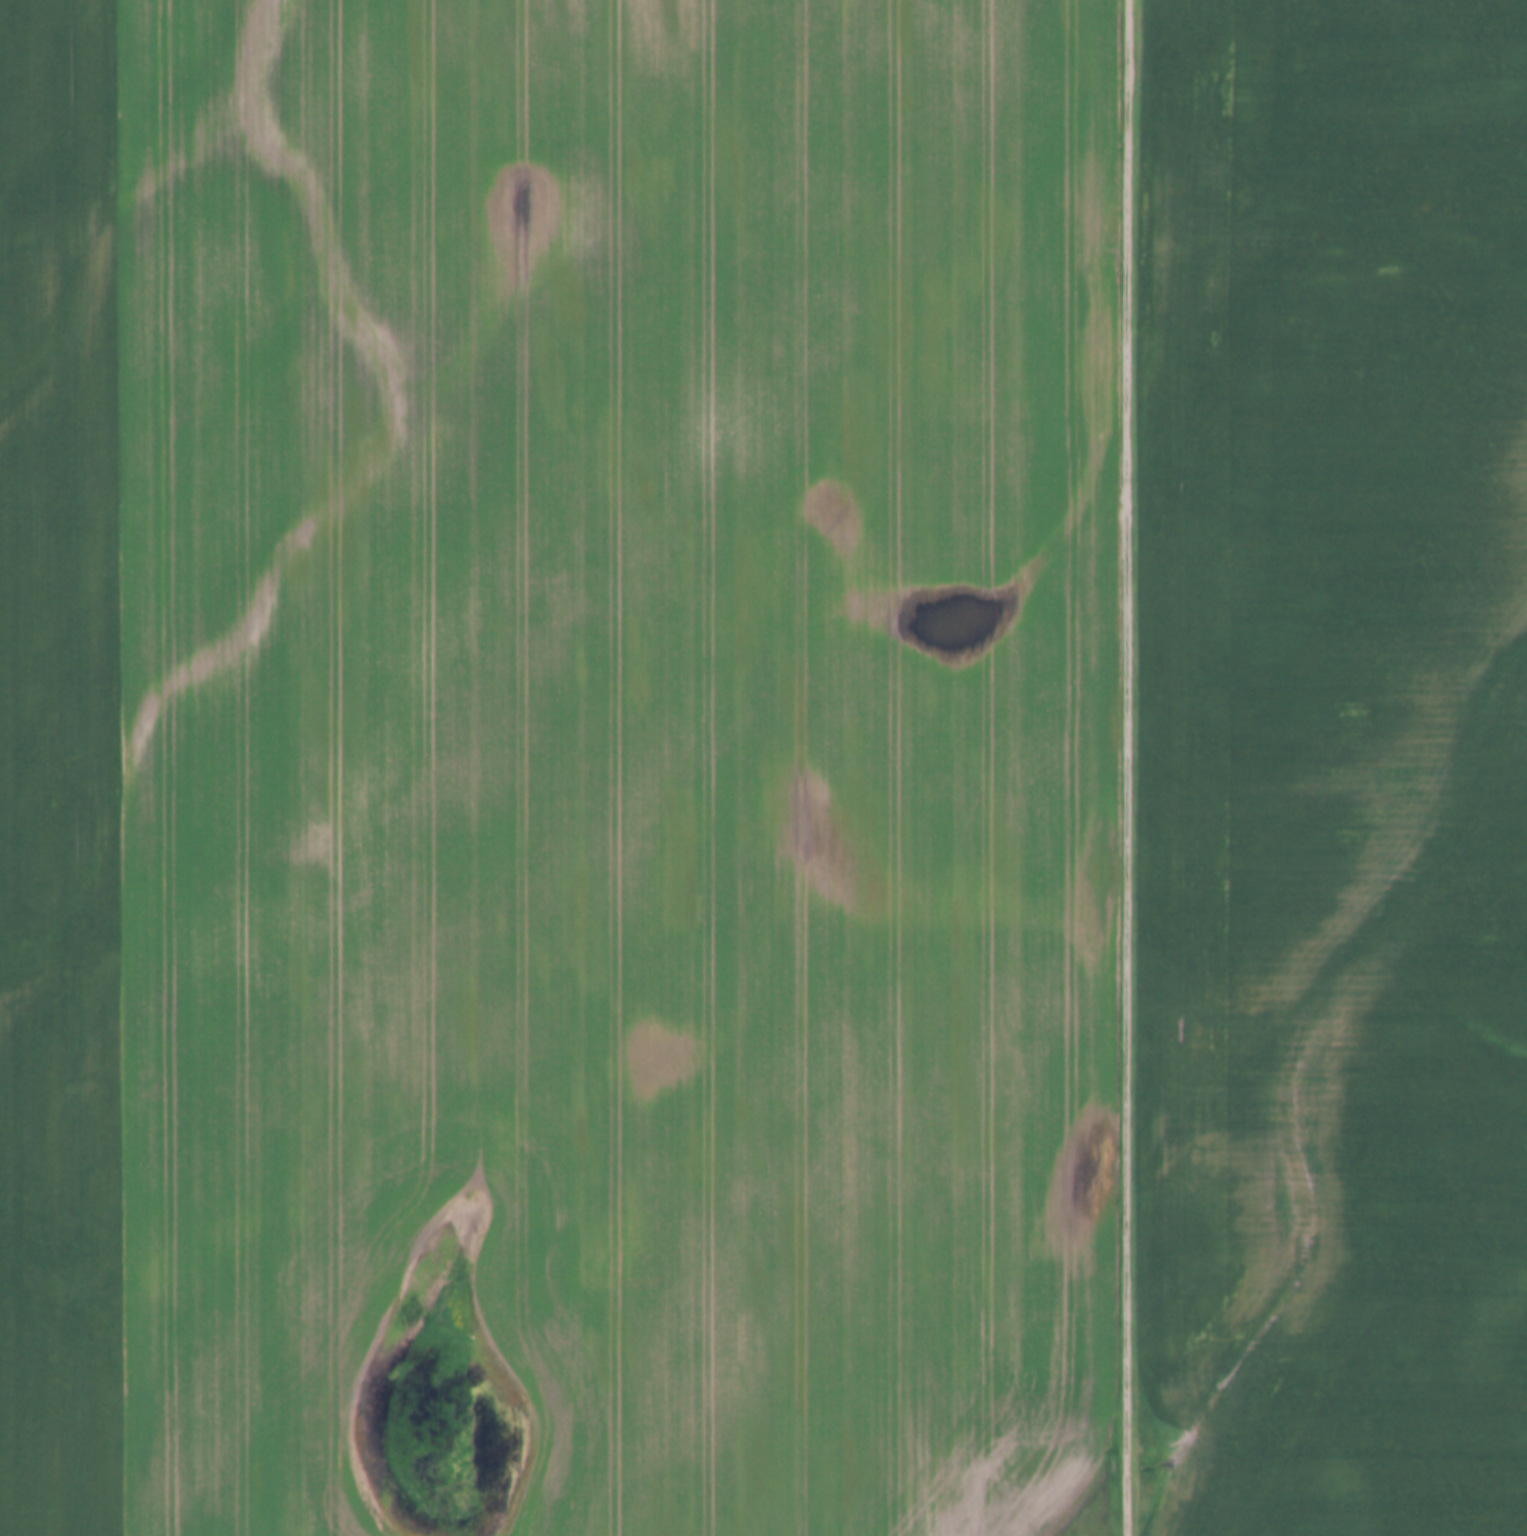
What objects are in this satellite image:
road: (1130, 768)

